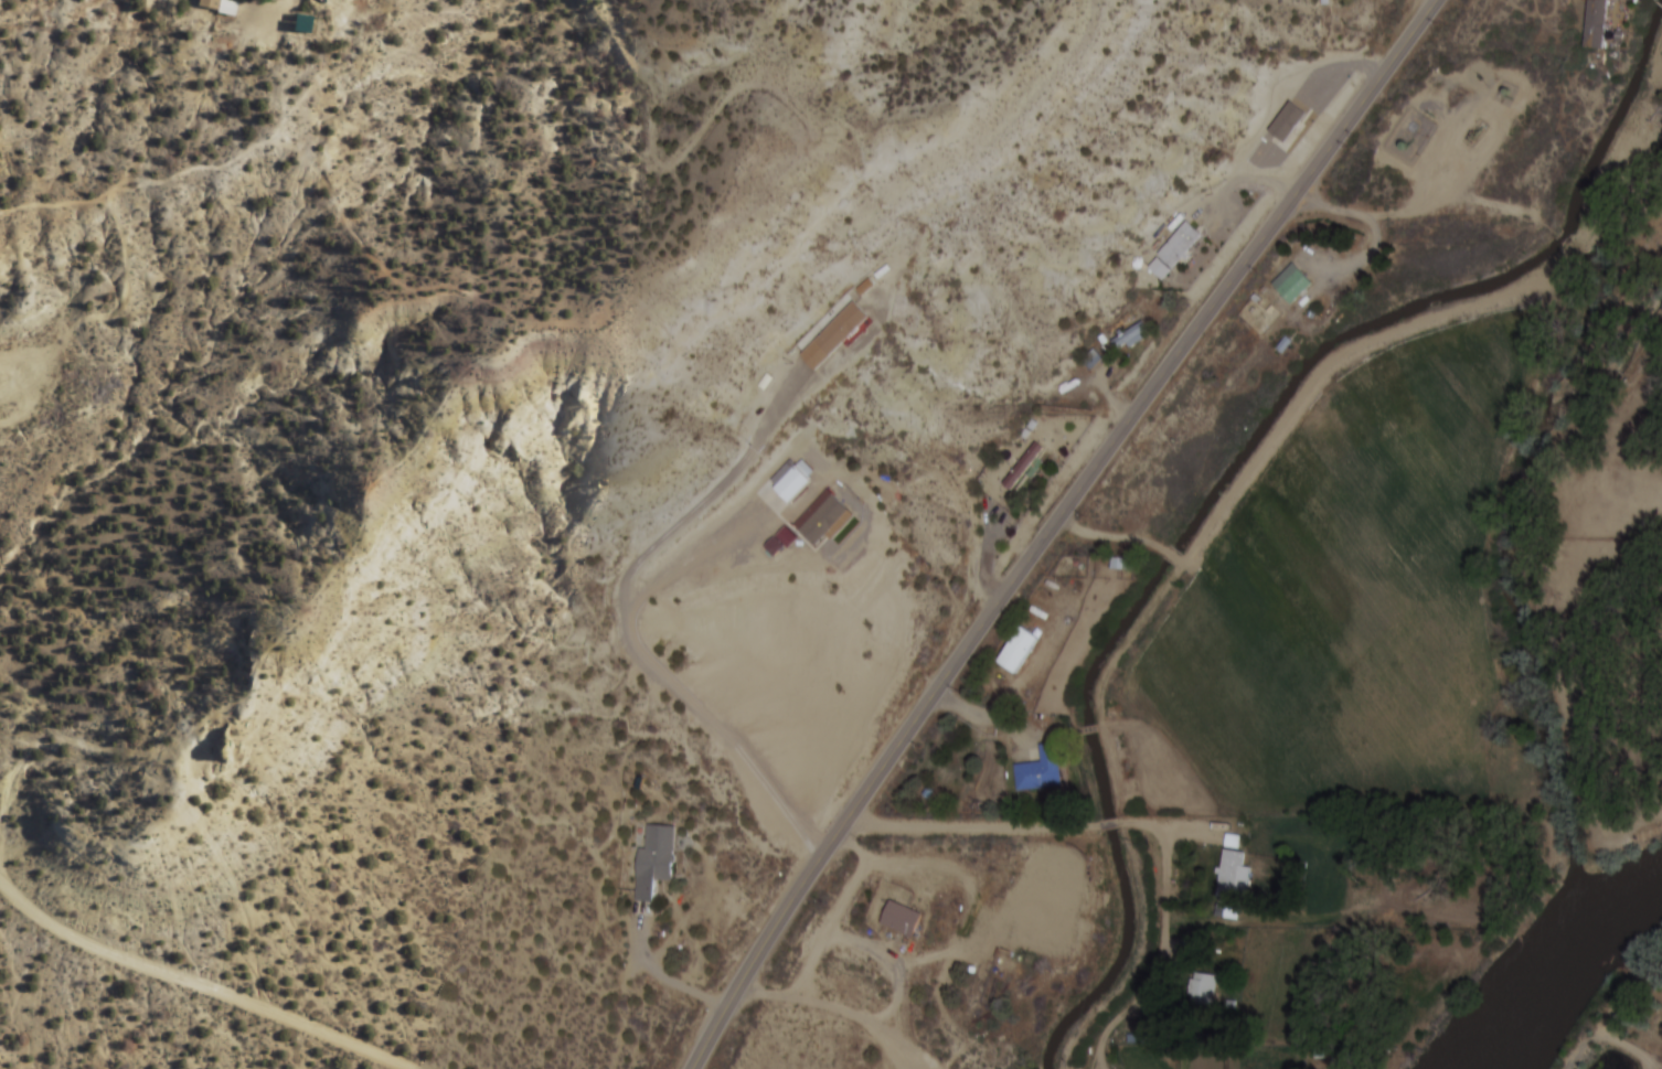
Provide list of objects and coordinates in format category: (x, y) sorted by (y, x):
building: (216, 6)
building: (1596, 24)
building: (1288, 121)
building: (1175, 250)
building: (1292, 284)
building: (834, 335)
building: (1130, 336)
building: (1023, 467)
building: (793, 485)
building: (823, 521)
road: (1053, 525)
building: (781, 543)
river: (1524, 581)
building: (1019, 650)
building: (1042, 771)
building: (656, 863)
building: (1230, 876)
building: (903, 921)
river: (1559, 963)
road: (196, 985)
building: (1203, 988)

